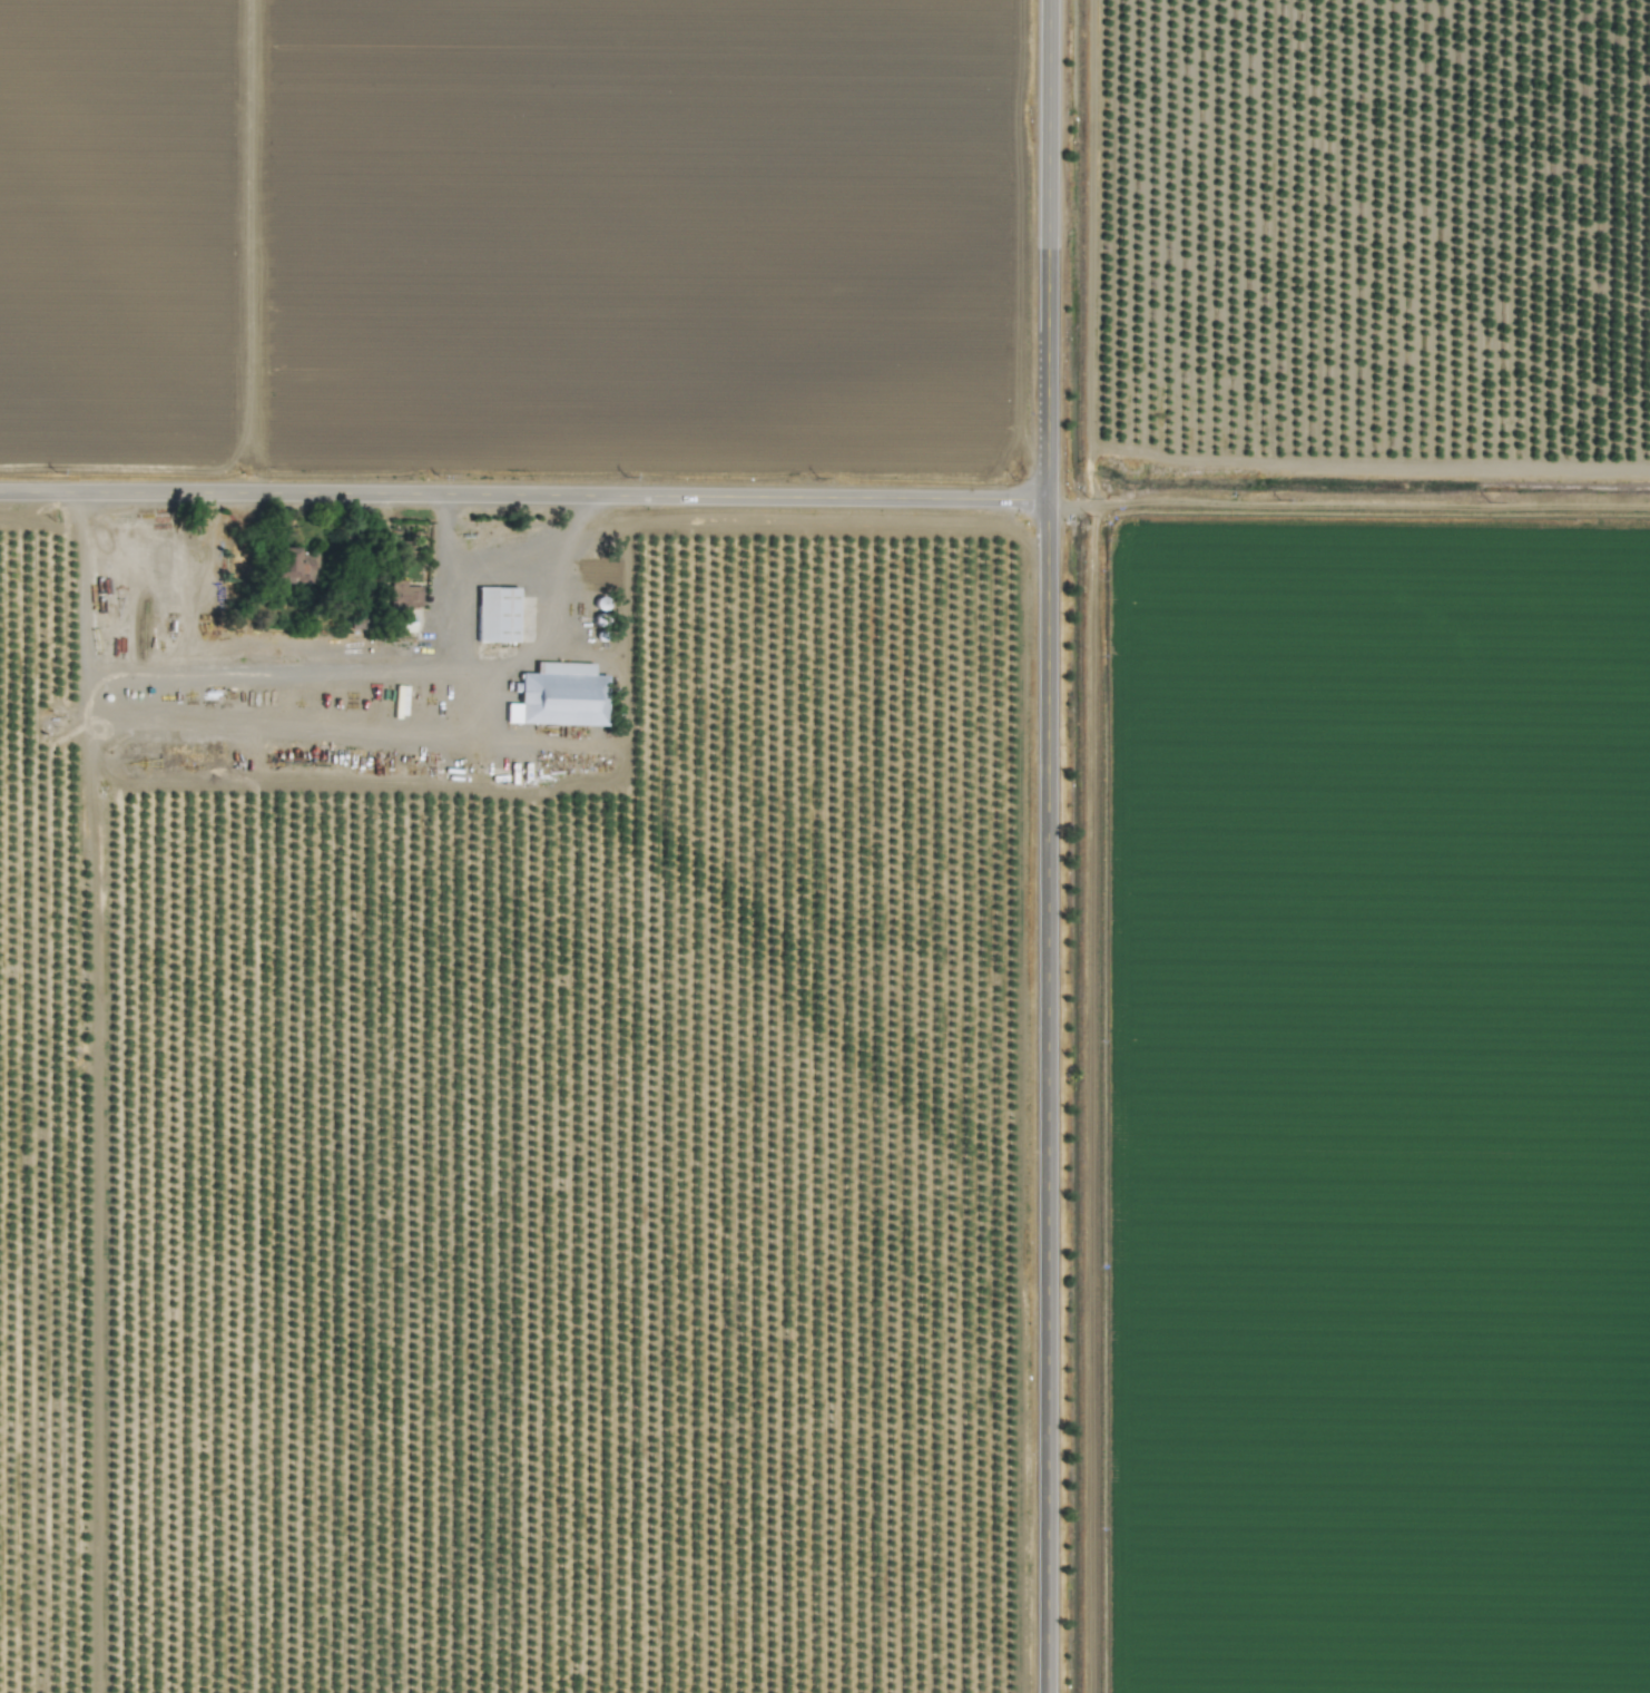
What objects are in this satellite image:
road: (526, 498)
road: (1351, 516)
road: (538, 549)
building: (406, 594)
building: (495, 614)
road: (347, 672)
building: (559, 695)
road: (1050, 845)
road: (95, 1094)

